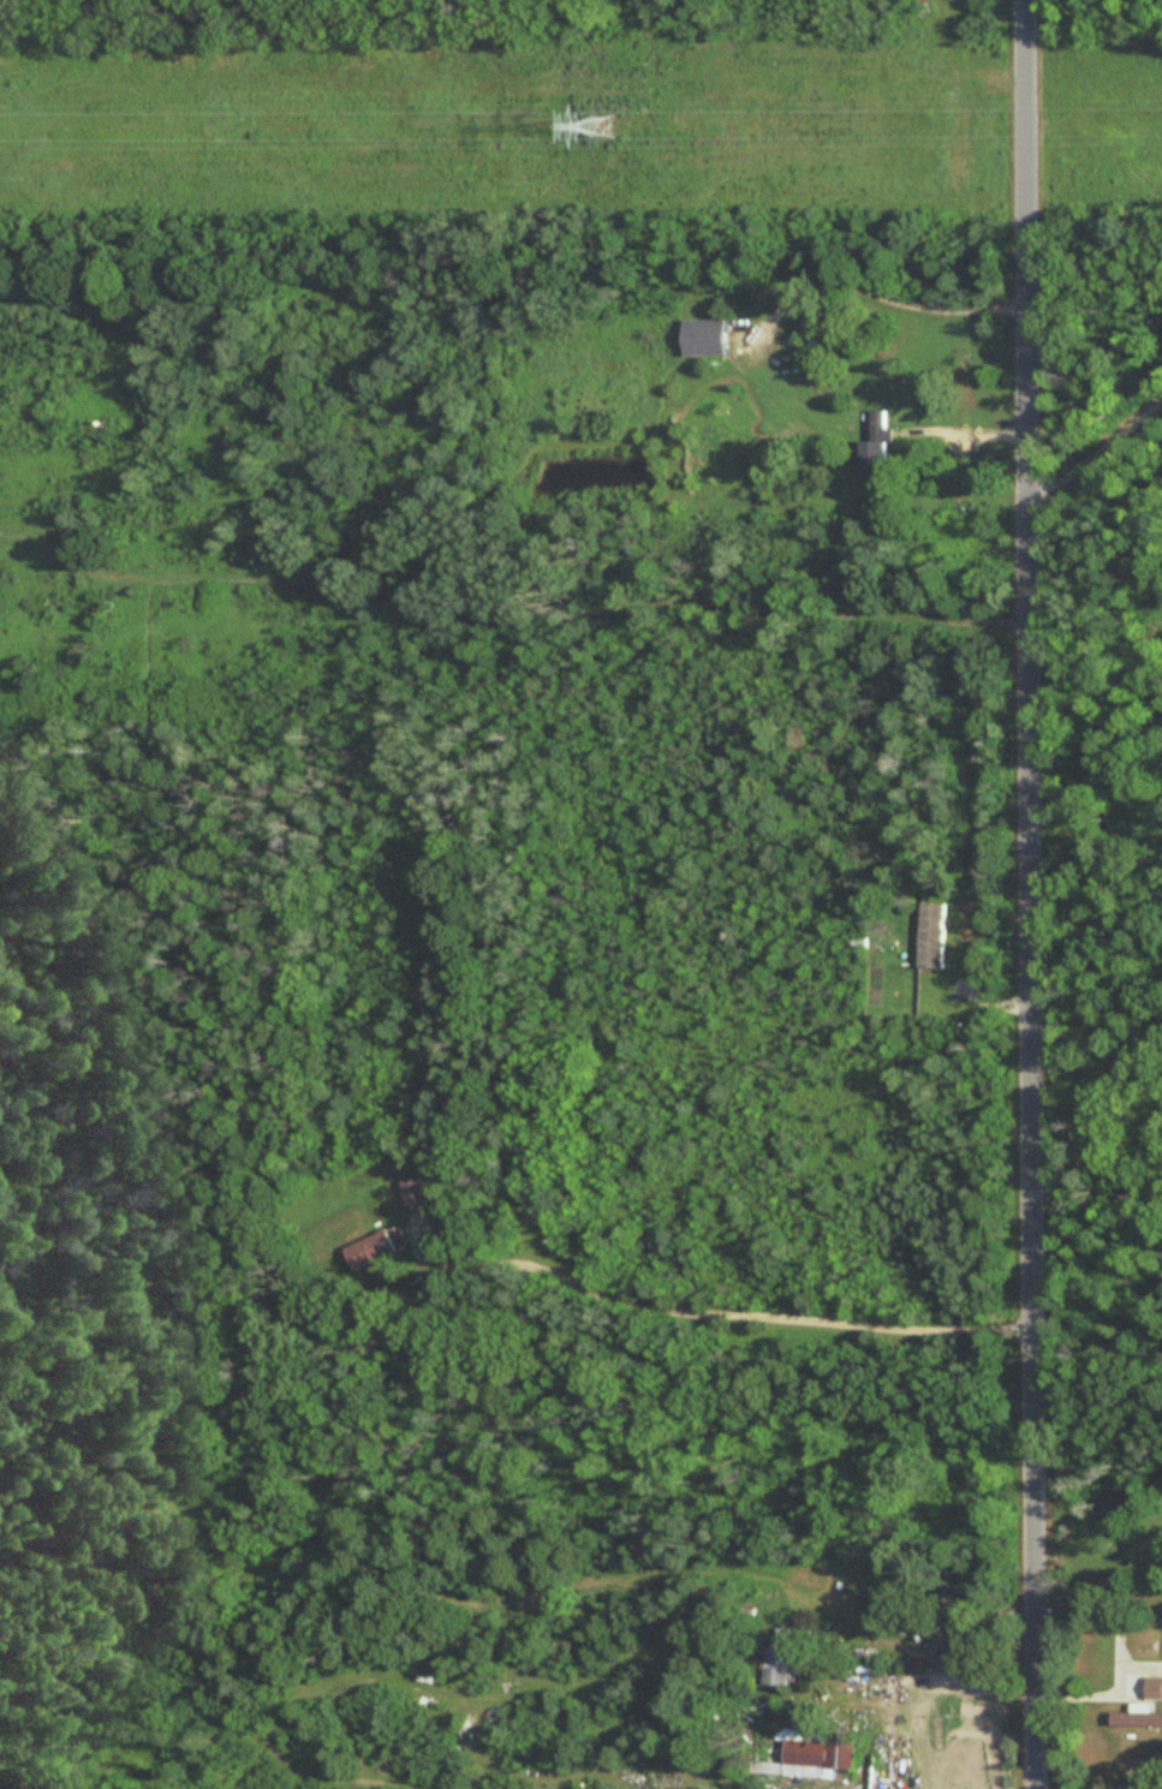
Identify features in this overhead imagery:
power tower: (600, 133)
road: (880, 296)
building: (814, 336)
building: (703, 339)
building: (877, 446)
road: (1092, 452)
road: (1029, 894)
building: (930, 937)
building: (413, 1195)
building: (530, 1221)
building: (369, 1252)
road: (707, 1316)
building: (781, 1660)
road: (938, 1682)
building: (1154, 1689)
road: (1107, 1694)
building: (1137, 1718)
road: (923, 1735)
building: (809, 1749)

